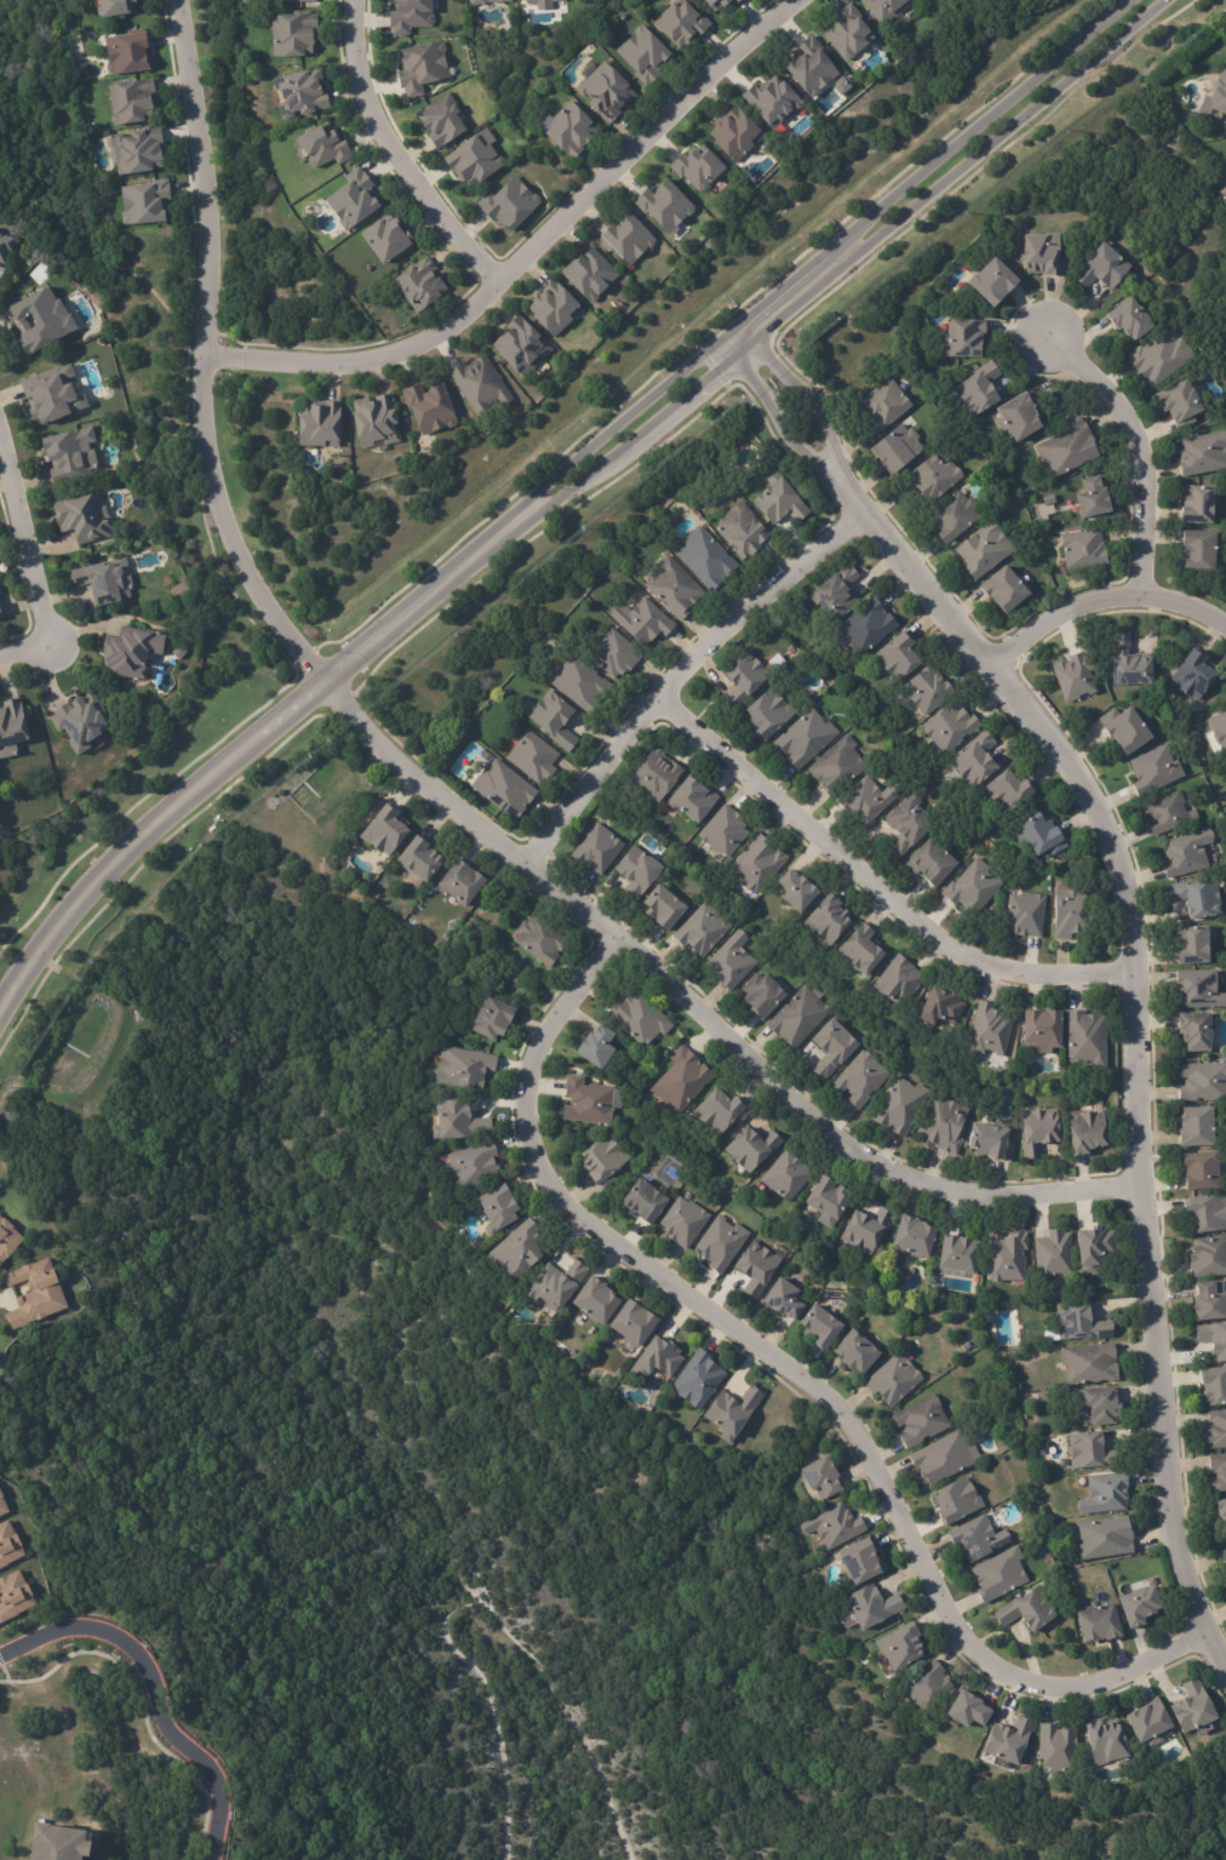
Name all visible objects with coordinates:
building: (928, 0)
building: (304, 1)
building: (486, 1)
building: (539, 4)
building: (716, 4)
building: (110, 7)
building: (887, 8)
building: (408, 16)
building: (680, 23)
building: (848, 33)
building: (291, 35)
building: (122, 55)
building: (642, 57)
building: (420, 69)
building: (809, 69)
building: (603, 92)
building: (1219, 93)
building: (299, 95)
building: (773, 102)
building: (128, 103)
building: (440, 121)
building: (568, 131)
building: (733, 135)
building: (320, 148)
road: (403, 149)
building: (136, 153)
building: (472, 162)
building: (698, 168)
building: (1225, 172)
building: (108, 185)
building: (350, 201)
building: (142, 205)
building: (509, 205)
building: (665, 207)
building: (384, 241)
building: (629, 241)
building: (6, 245)
road: (531, 250)
building: (1041, 253)
road: (819, 256)
road: (846, 264)
building: (1101, 268)
building: (589, 275)
building: (992, 284)
building: (418, 286)
building: (550, 310)
building: (62, 320)
building: (1130, 320)
building: (961, 336)
building: (520, 348)
building: (1158, 357)
building: (479, 387)
building: (976, 389)
building: (56, 395)
building: (1179, 402)
building: (883, 404)
building: (428, 410)
building: (1016, 417)
building: (372, 423)
building: (315, 427)
road: (1139, 439)
building: (896, 448)
building: (1066, 448)
building: (1202, 453)
building: (76, 454)
building: (932, 476)
building: (1090, 497)
building: (778, 502)
building: (1196, 504)
building: (952, 517)
building: (86, 519)
building: (739, 530)
building: (981, 549)
building: (1083, 549)
building: (1198, 549)
building: (703, 557)
road: (28, 570)
building: (104, 579)
building: (671, 588)
building: (1004, 589)
building: (835, 594)
road: (1102, 606)
building: (2, 609)
building: (641, 623)
building: (865, 626)
building: (1174, 648)
building: (134, 651)
building: (608, 652)
building: (894, 657)
building: (1125, 662)
building: (1192, 674)
building: (1073, 675)
building: (741, 677)
road: (687, 681)
building: (575, 682)
building: (921, 689)
building: (768, 714)
building: (84, 721)
building: (552, 721)
building: (949, 726)
building: (12, 728)
building: (1125, 729)
building: (1219, 729)
building: (803, 739)
road: (242, 744)
building: (531, 757)
building: (973, 760)
building: (836, 767)
building: (1153, 769)
building: (653, 774)
road: (425, 784)
building: (503, 790)
building: (1004, 792)
building: (689, 800)
building: (865, 800)
building: (1164, 813)
building: (904, 825)
building: (384, 830)
building: (722, 831)
building: (7, 834)
building: (1037, 835)
building: (596, 849)
building: (1184, 855)
building: (419, 860)
building: (928, 862)
building: (756, 865)
building: (634, 874)
building: (460, 883)
road: (881, 888)
building: (972, 888)
building: (792, 891)
building: (502, 893)
building: (1196, 898)
building: (659, 908)
building: (1070, 912)
building: (1024, 914)
building: (824, 921)
building: (700, 931)
road: (1133, 937)
building: (538, 942)
building: (1191, 946)
building: (859, 950)
building: (778, 955)
building: (731, 961)
building: (896, 981)
building: (1198, 989)
building: (758, 996)
building: (939, 1008)
building: (795, 1019)
building: (487, 1020)
building: (637, 1020)
building: (989, 1030)
building: (1039, 1031)
building: (1193, 1032)
building: (1085, 1040)
building: (594, 1047)
building: (829, 1048)
building: (460, 1069)
building: (680, 1080)
building: (858, 1080)
building: (1202, 1082)
building: (588, 1103)
building: (898, 1108)
building: (717, 1112)
building: (458, 1122)
building: (941, 1124)
building: (1196, 1128)
building: (1037, 1132)
building: (1084, 1132)
building: (989, 1144)
building: (750, 1148)
building: (601, 1162)
building: (470, 1167)
building: (1198, 1172)
building: (785, 1175)
building: (825, 1201)
building: (644, 1202)
building: (497, 1208)
building: (1205, 1214)
building: (682, 1224)
building: (864, 1229)
building: (911, 1237)
building: (10, 1241)
building: (718, 1244)
building: (1093, 1248)
building: (517, 1251)
building: (957, 1254)
building: (1053, 1255)
building: (1004, 1258)
building: (1208, 1259)
building: (756, 1270)
building: (554, 1287)
building: (41, 1294)
building: (781, 1299)
building: (595, 1303)
building: (1205, 1305)
building: (632, 1324)
building: (1077, 1326)
building: (819, 1327)
building: (1213, 1341)
building: (853, 1355)
building: (658, 1361)
building: (1088, 1364)
road: (802, 1379)
building: (893, 1380)
building: (698, 1383)
building: (1213, 1386)
building: (0, 1392)
building: (1100, 1407)
building: (729, 1414)
building: (919, 1421)
building: (1215, 1431)
building: (1084, 1453)
building: (941, 1459)
building: (1218, 1473)
building: (820, 1480)
building: (1104, 1495)
building: (955, 1504)
building: (4, 1505)
building: (1221, 1513)
building: (831, 1528)
building: (976, 1541)
building: (1104, 1541)
building: (11, 1546)
building: (1224, 1557)
building: (860, 1563)
building: (998, 1576)
building: (16, 1597)
building: (1138, 1608)
building: (871, 1609)
building: (1027, 1613)
building: (1098, 1625)
building: (900, 1648)
building: (927, 1689)
road: (154, 1690)
building: (1192, 1710)
building: (968, 1712)
building: (1150, 1724)
building: (1007, 1741)
building: (1105, 1742)
building: (1058, 1749)
building: (52, 1847)

